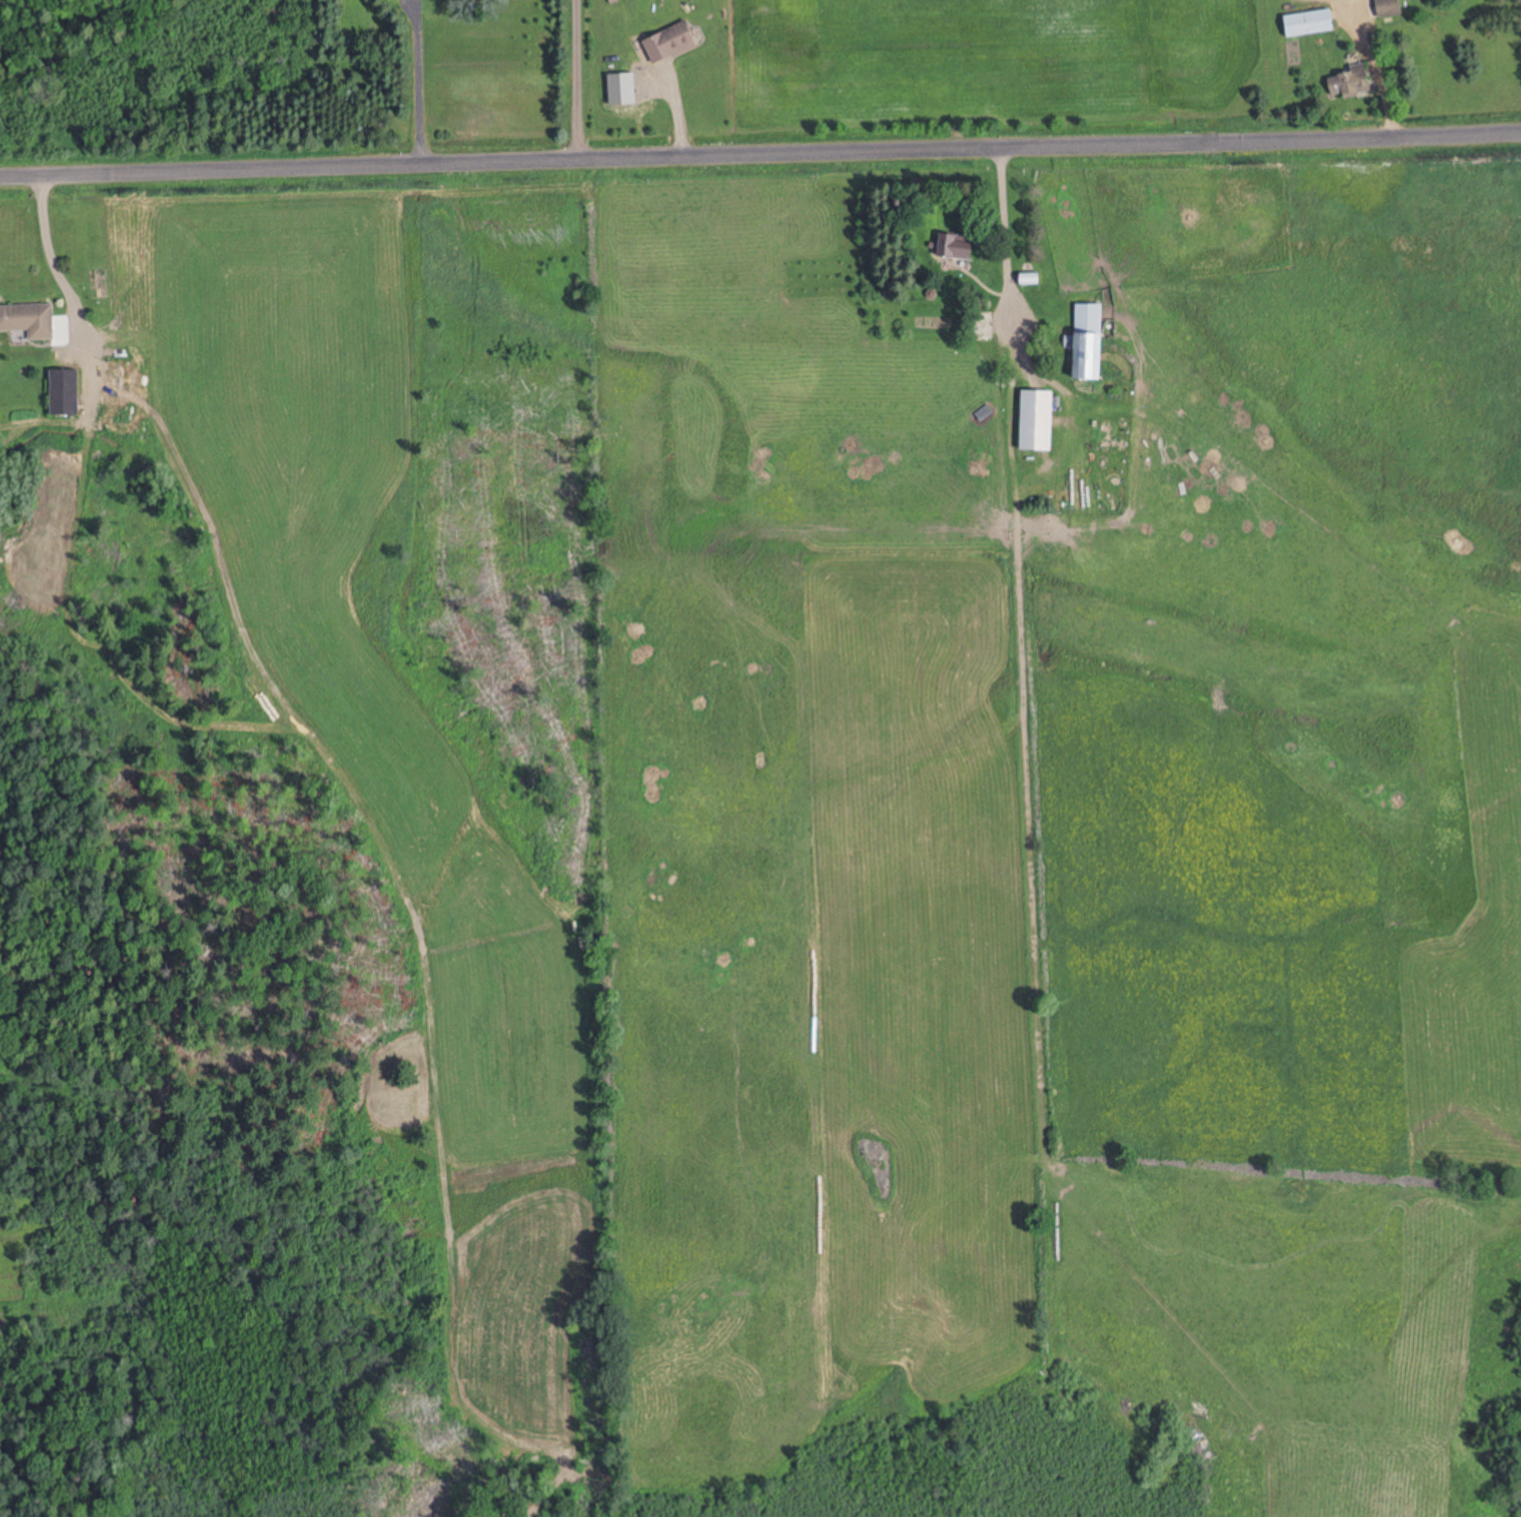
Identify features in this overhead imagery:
building: (1389, 7)
building: (1310, 22)
building: (670, 42)
building: (1354, 82)
road: (760, 152)
building: (958, 246)
building: (1032, 278)
building: (28, 320)
building: (1090, 341)
building: (66, 391)
building: (1038, 419)
crop: (1056, 990)

